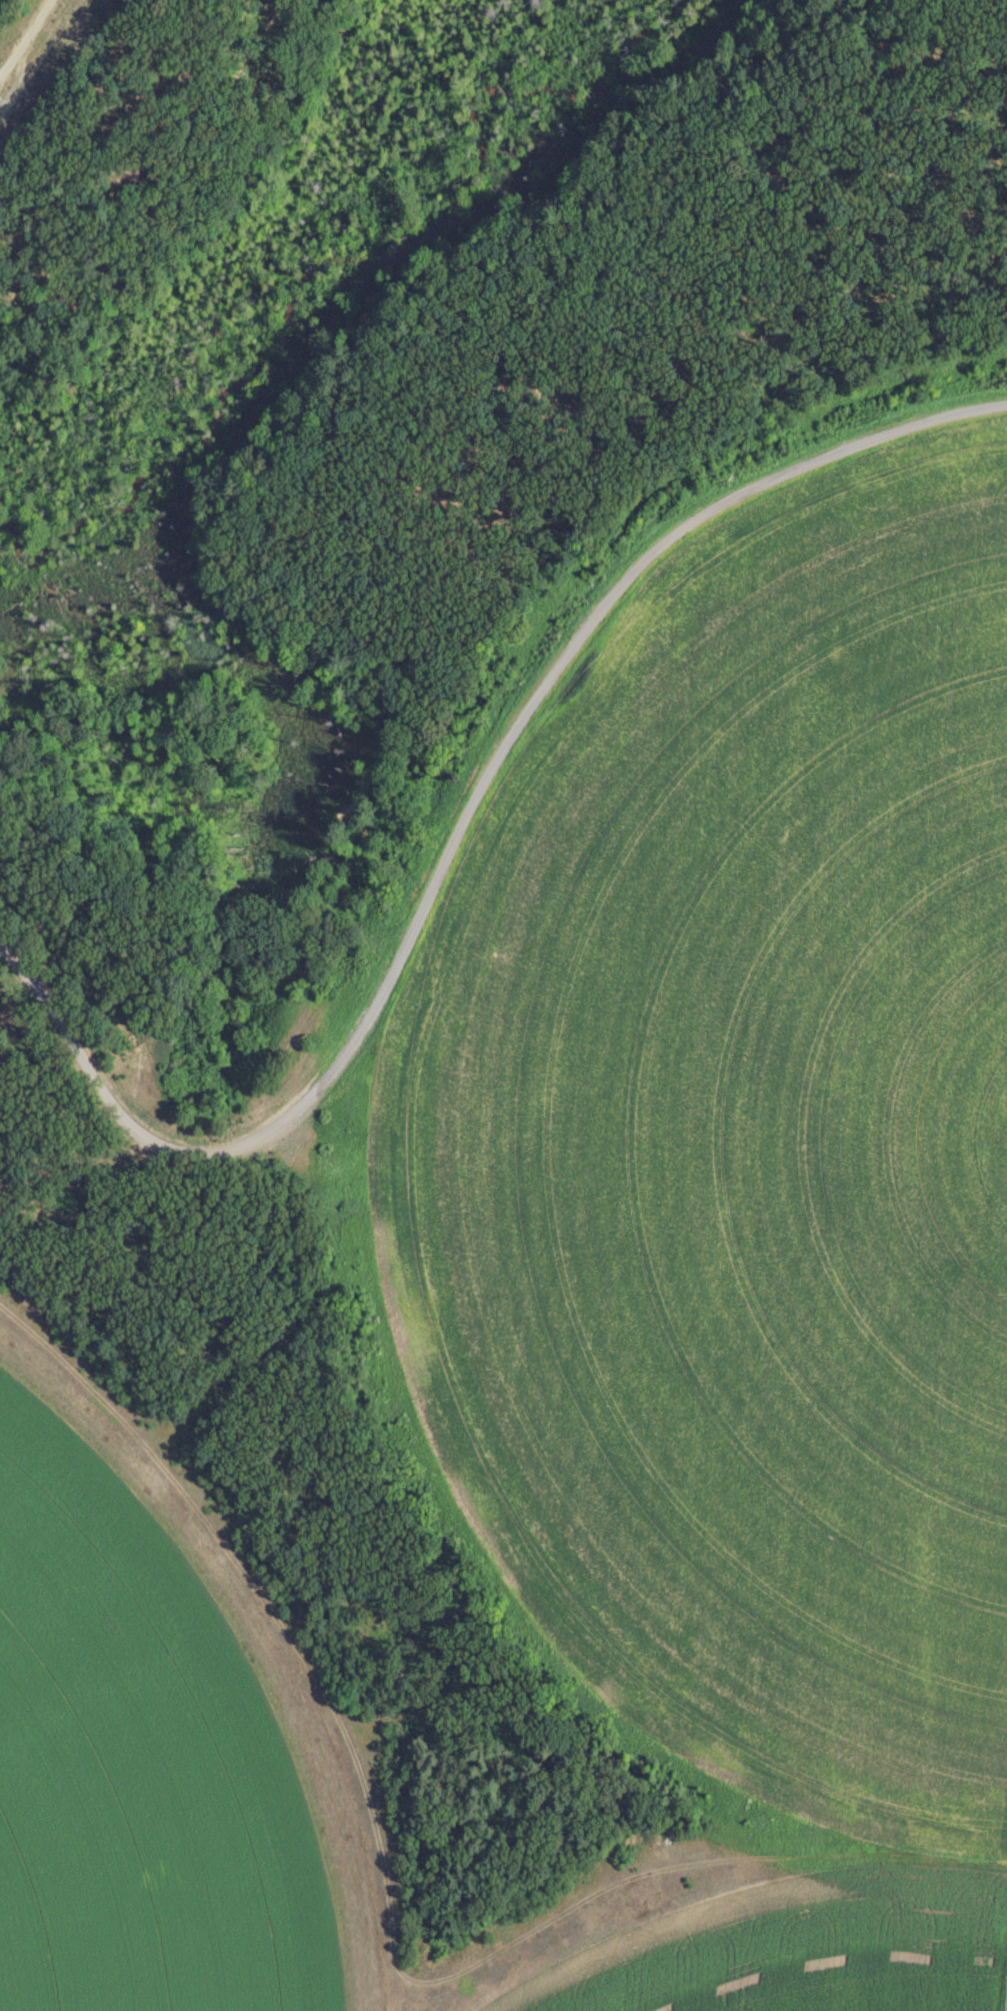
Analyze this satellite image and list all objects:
road: (93, 189)
road: (372, 569)
road: (457, 838)
wastewater plant: (554, 1333)

